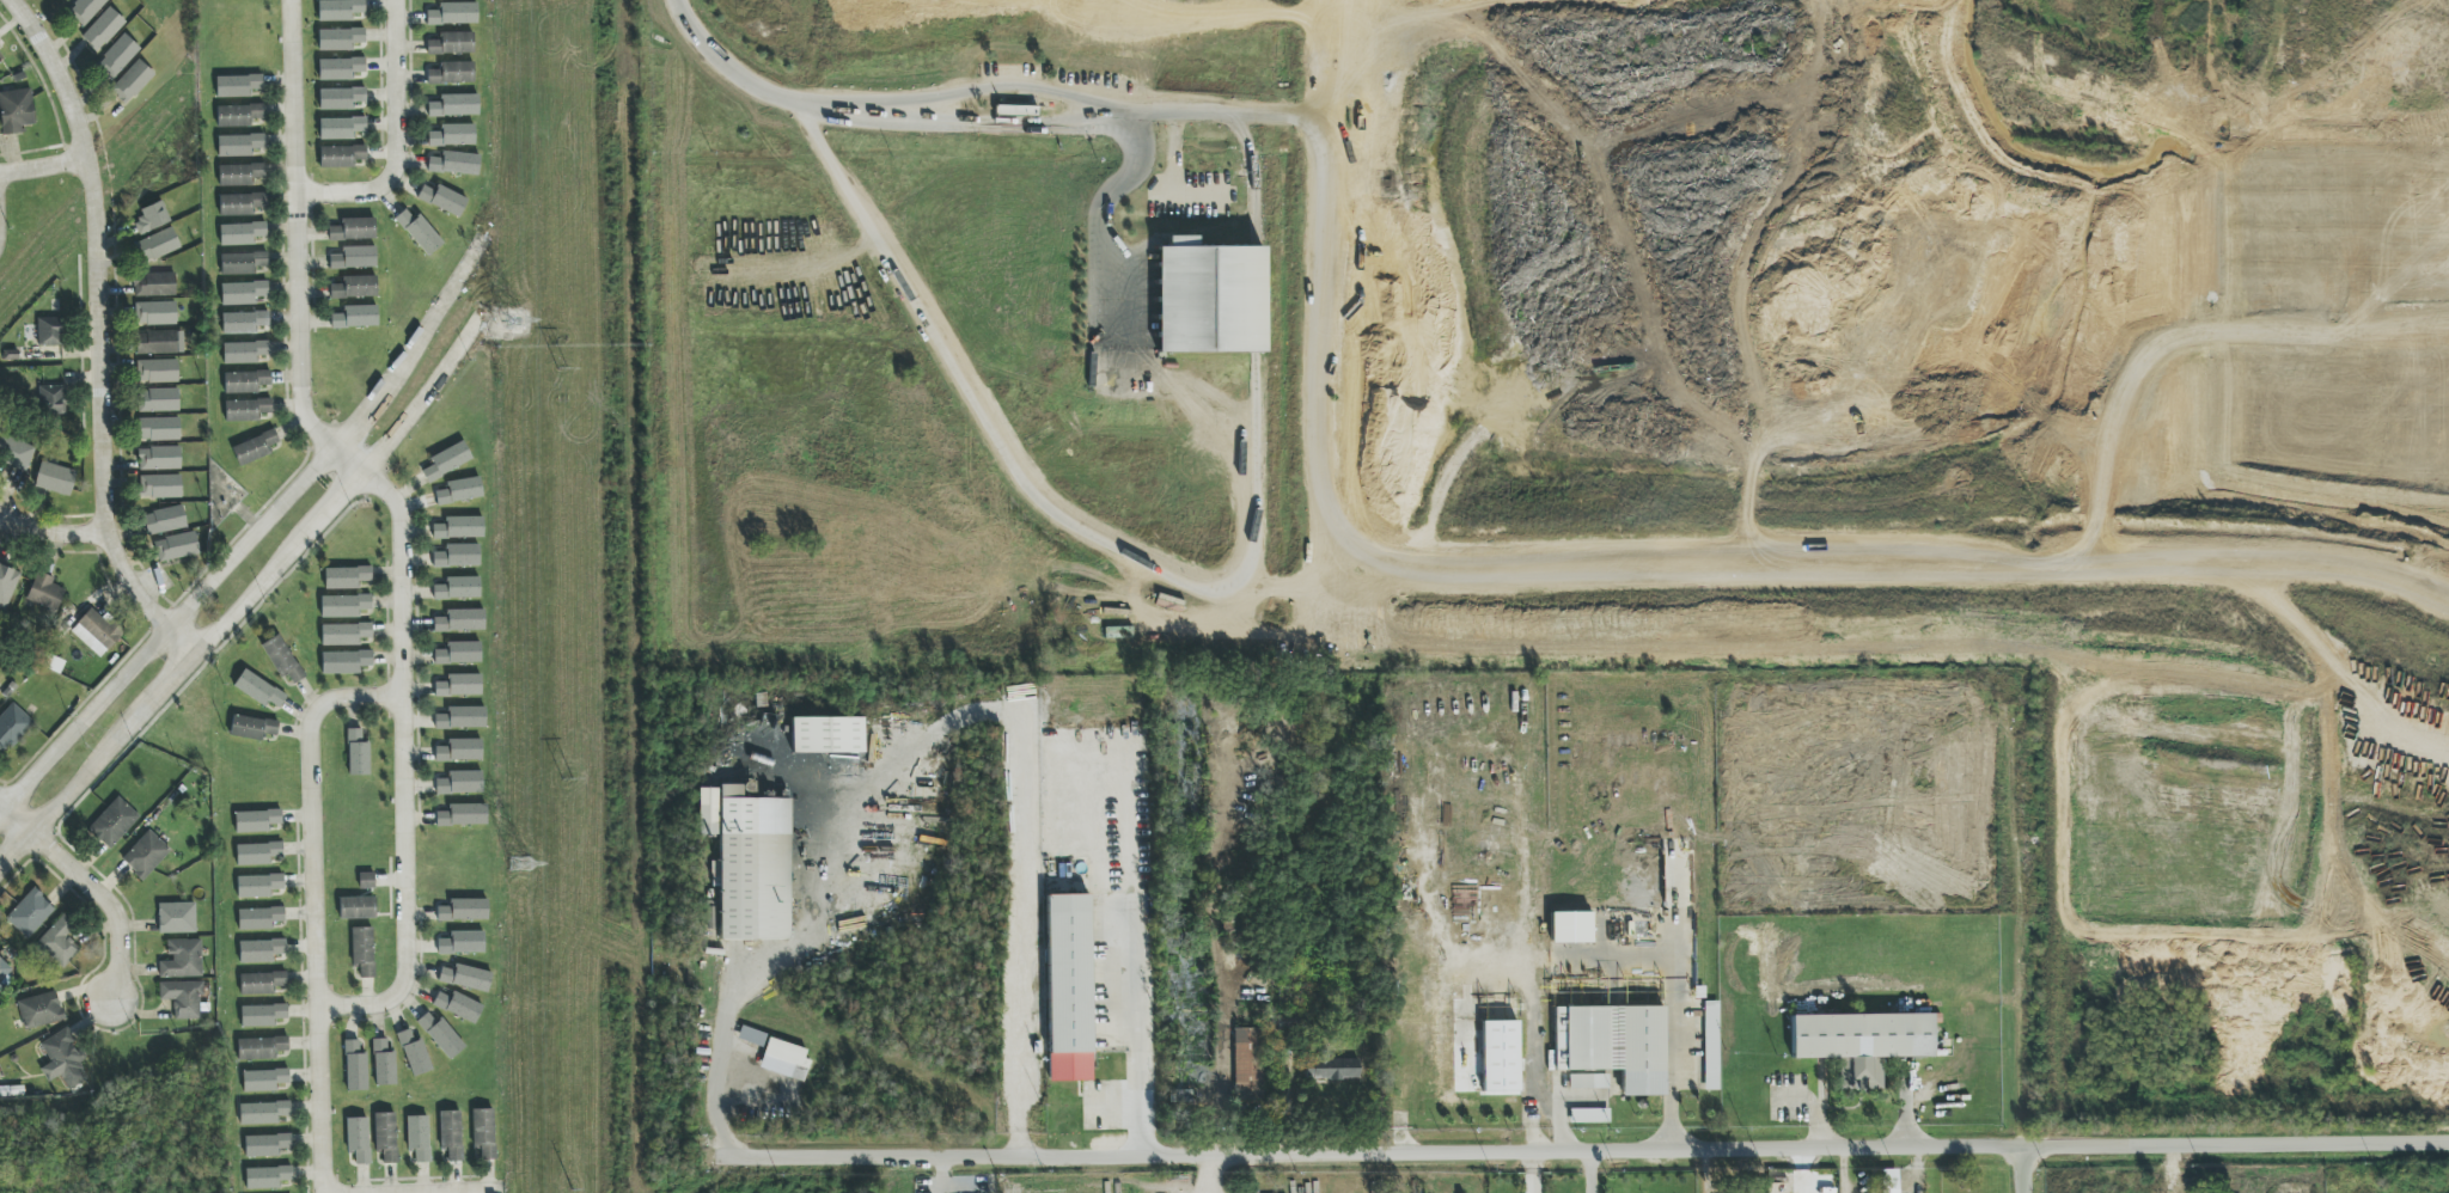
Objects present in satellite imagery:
building: (85, 10)
building: (338, 10)
building: (453, 14)
building: (103, 30)
building: (338, 39)
building: (452, 43)
building: (0, 57)
building: (117, 57)
building: (340, 68)
building: (452, 73)
road: (59, 74)
building: (132, 81)
building: (237, 86)
road: (1002, 86)
road: (769, 87)
building: (340, 98)
building: (454, 105)
building: (16, 110)
road: (1203, 110)
building: (238, 115)
building: (340, 128)
road: (1001, 129)
building: (452, 135)
road: (393, 136)
building: (239, 145)
building: (341, 157)
building: (454, 164)
road: (43, 169)
building: (240, 175)
building: (442, 200)
building: (240, 204)
building: (152, 218)
building: (353, 230)
building: (419, 232)
building: (240, 233)
building: (155, 246)
building: (354, 258)
building: (242, 263)
building: (154, 285)
building: (354, 287)
building: (243, 293)
building: (1209, 298)
landfill: (1880, 298)
building: (157, 313)
building: (355, 317)
building: (244, 323)
power tower: (514, 323)
building: (49, 331)
building: (157, 342)
road: (410, 345)
building: (244, 351)
building: (157, 371)
building: (245, 381)
road: (423, 393)
building: (53, 400)
building: (159, 400)
building: (245, 410)
road: (102, 421)
building: (158, 429)
building: (254, 448)
building: (19, 455)
building: (159, 459)
building: (447, 461)
building: (55, 479)
building: (159, 487)
building: (460, 490)
road: (399, 519)
building: (164, 520)
building: (459, 528)
road: (51, 534)
building: (177, 546)
building: (457, 556)
road: (276, 563)
road: (1169, 573)
building: (346, 577)
building: (7, 585)
building: (458, 588)
building: (44, 593)
building: (344, 606)
building: (460, 620)
road: (165, 629)
building: (96, 632)
building: (344, 634)
building: (459, 653)
building: (283, 660)
building: (344, 662)
road: (169, 681)
building: (459, 685)
building: (258, 690)
building: (462, 718)
building: (12, 726)
building: (251, 727)
building: (826, 735)
building: (459, 751)
building: (358, 753)
road: (86, 770)
building: (460, 783)
building: (749, 790)
building: (463, 815)
road: (14, 816)
building: (256, 821)
building: (112, 822)
road: (14, 846)
building: (145, 855)
building: (749, 862)
power tower: (524, 864)
road: (1031, 876)
building: (366, 880)
building: (258, 886)
road: (109, 903)
road: (313, 906)
building: (358, 907)
road: (2029, 910)
building: (463, 911)
building: (30, 913)
building: (177, 918)
building: (259, 918)
building: (1570, 928)
building: (59, 942)
building: (462, 942)
building: (259, 950)
building: (362, 950)
building: (182, 959)
building: (5, 972)
building: (466, 978)
building: (261, 983)
building: (1069, 987)
building: (183, 998)
building: (458, 1005)
building: (39, 1010)
building: (262, 1015)
building: (1107, 1033)
building: (441, 1035)
building: (751, 1036)
building: (1037, 1038)
building: (1861, 1044)
building: (1613, 1045)
building: (1711, 1046)
building: (261, 1048)
road: (1140, 1048)
building: (414, 1053)
building: (784, 1059)
building: (1496, 1059)
building: (62, 1060)
building: (384, 1064)
building: (1248, 1064)
building: (355, 1066)
building: (1330, 1067)
road: (1673, 1078)
building: (263, 1079)
building: (1588, 1081)
road: (1143, 1112)
building: (262, 1113)
building: (1589, 1115)
building: (483, 1132)
building: (451, 1134)
building: (385, 1137)
building: (419, 1137)
building: (358, 1139)
building: (265, 1145)
road: (1510, 1148)
road: (1592, 1170)
road: (1208, 1171)
building: (267, 1177)
building: (1888, 1181)
road: (2029, 1186)
road: (480, 1192)

